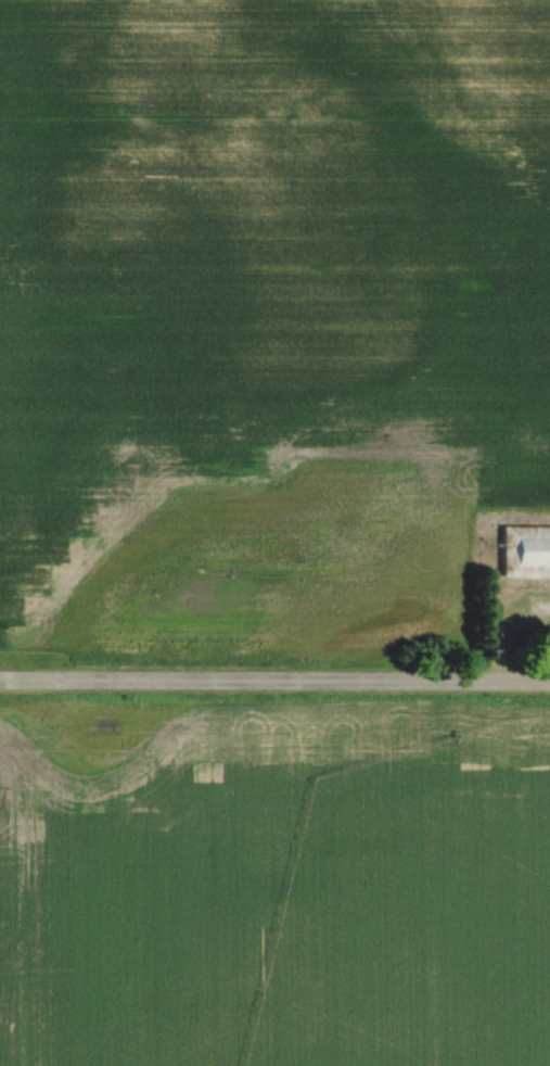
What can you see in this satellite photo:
crop: (267, 308)
building: (525, 554)
road: (274, 681)

